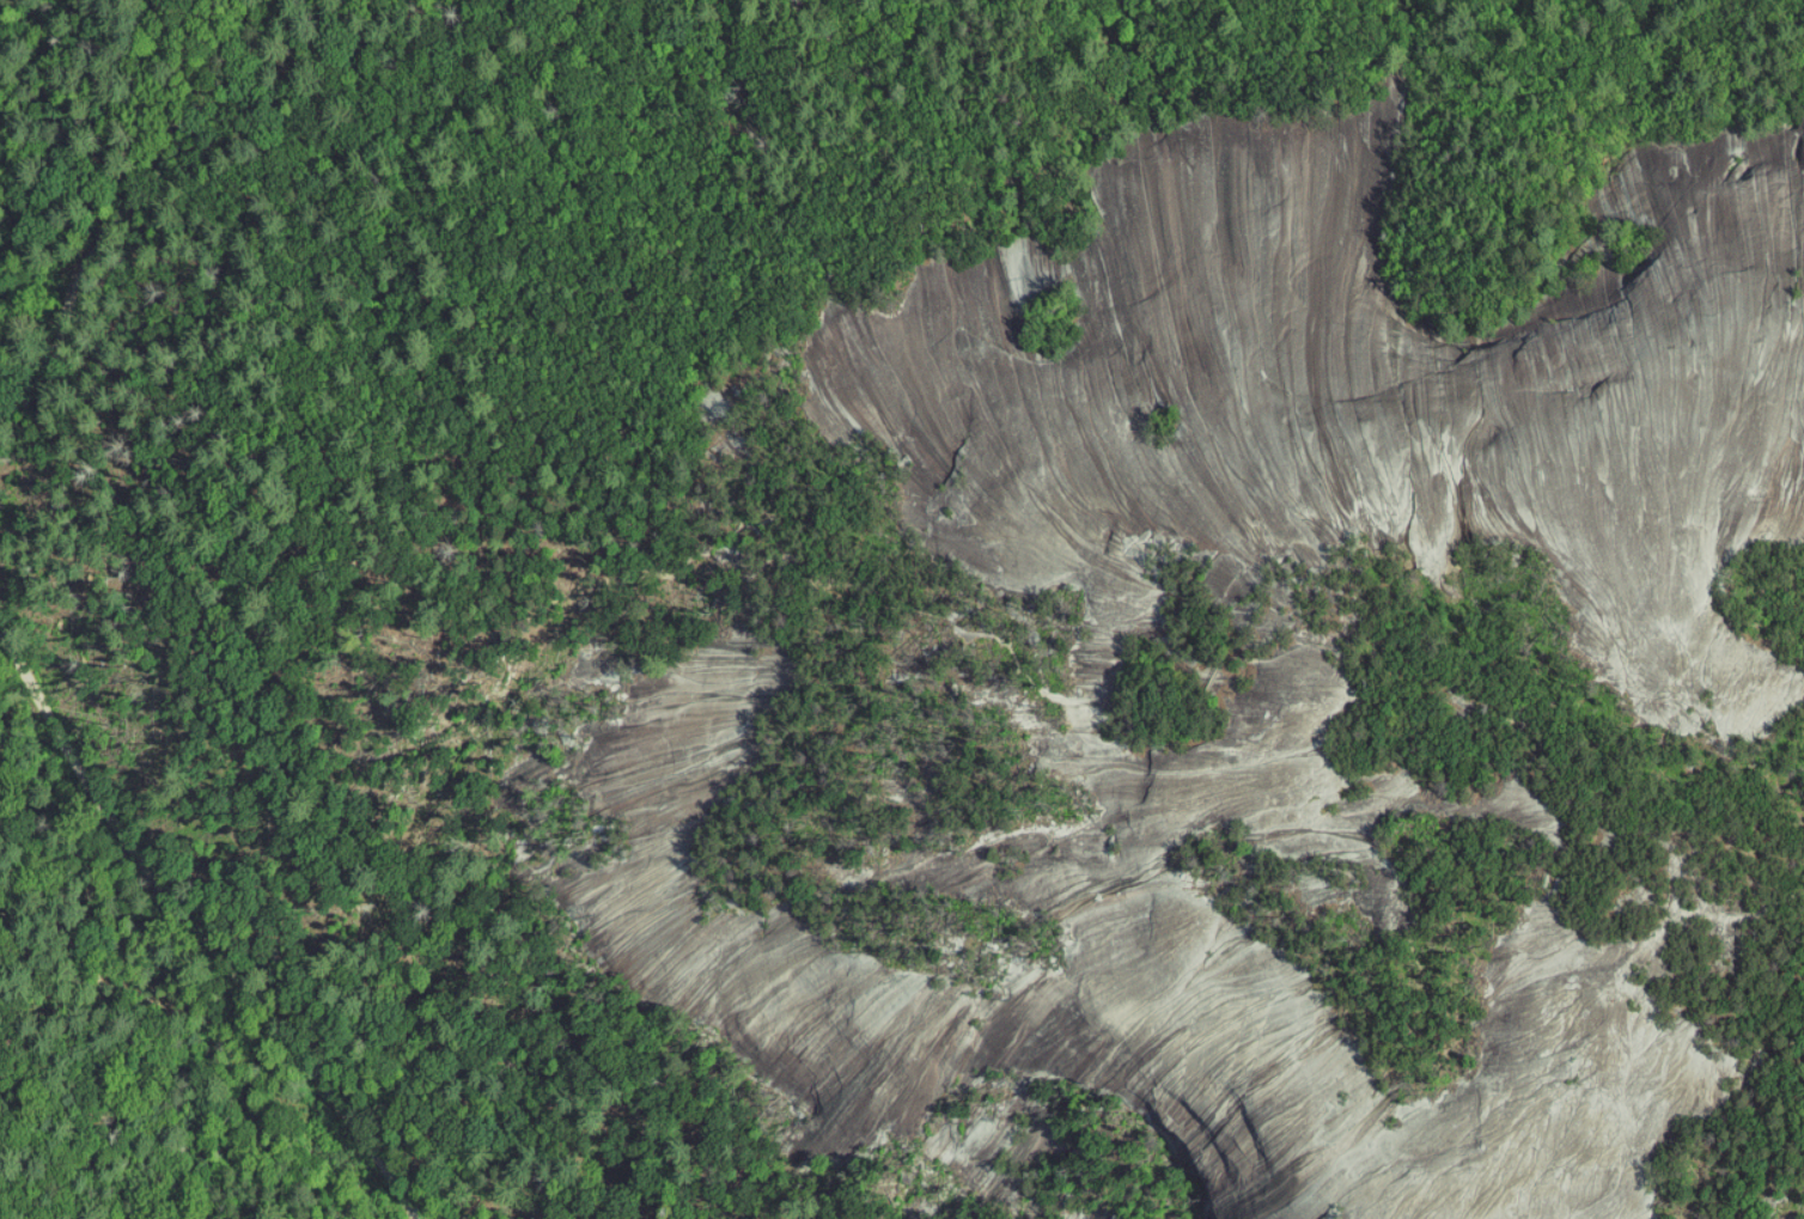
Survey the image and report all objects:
road: (16, 14)
road: (232, 44)
road: (8, 56)
road: (78, 134)
road: (87, 261)
road: (349, 585)
road: (1219, 664)
road: (1168, 690)
road: (1534, 735)
road: (201, 930)
road: (105, 982)

